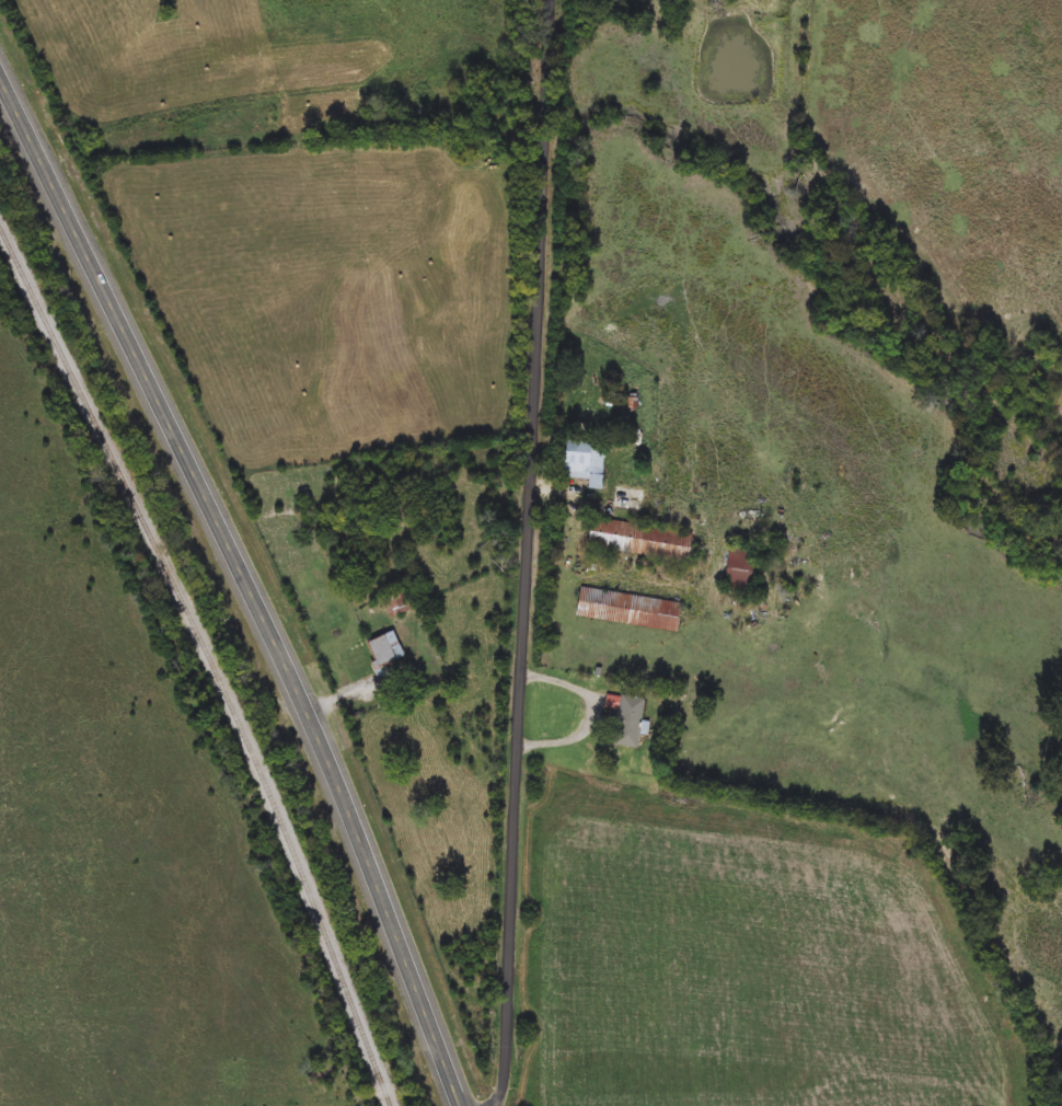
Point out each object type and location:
building: (586, 463)
building: (642, 540)
road: (529, 553)
building: (742, 569)
road: (249, 583)
building: (397, 603)
building: (631, 611)
building: (388, 649)
railway: (210, 656)
road: (593, 711)
building: (631, 719)

